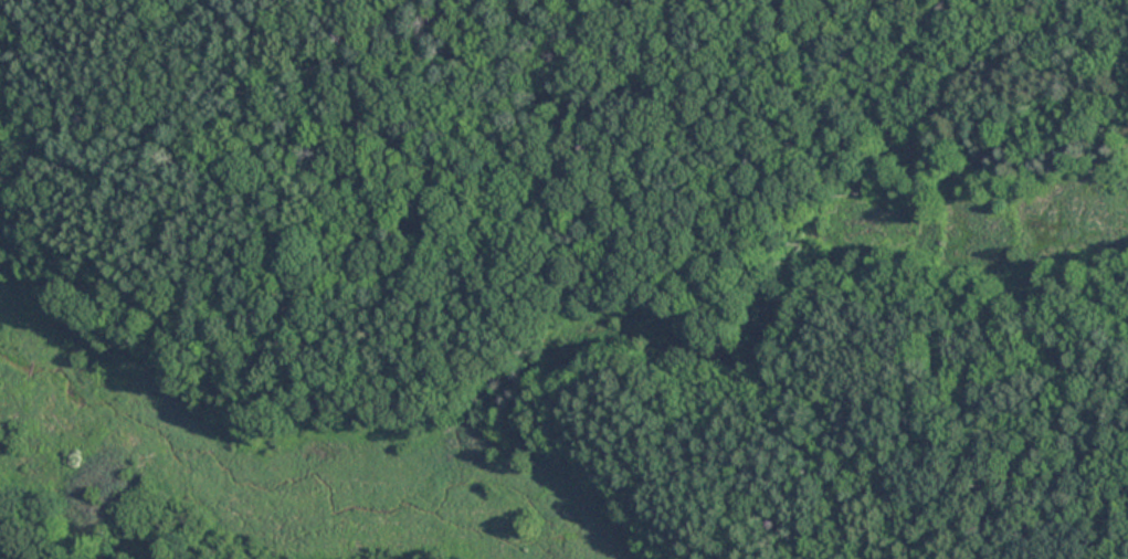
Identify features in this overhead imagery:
park: (563, 279)

